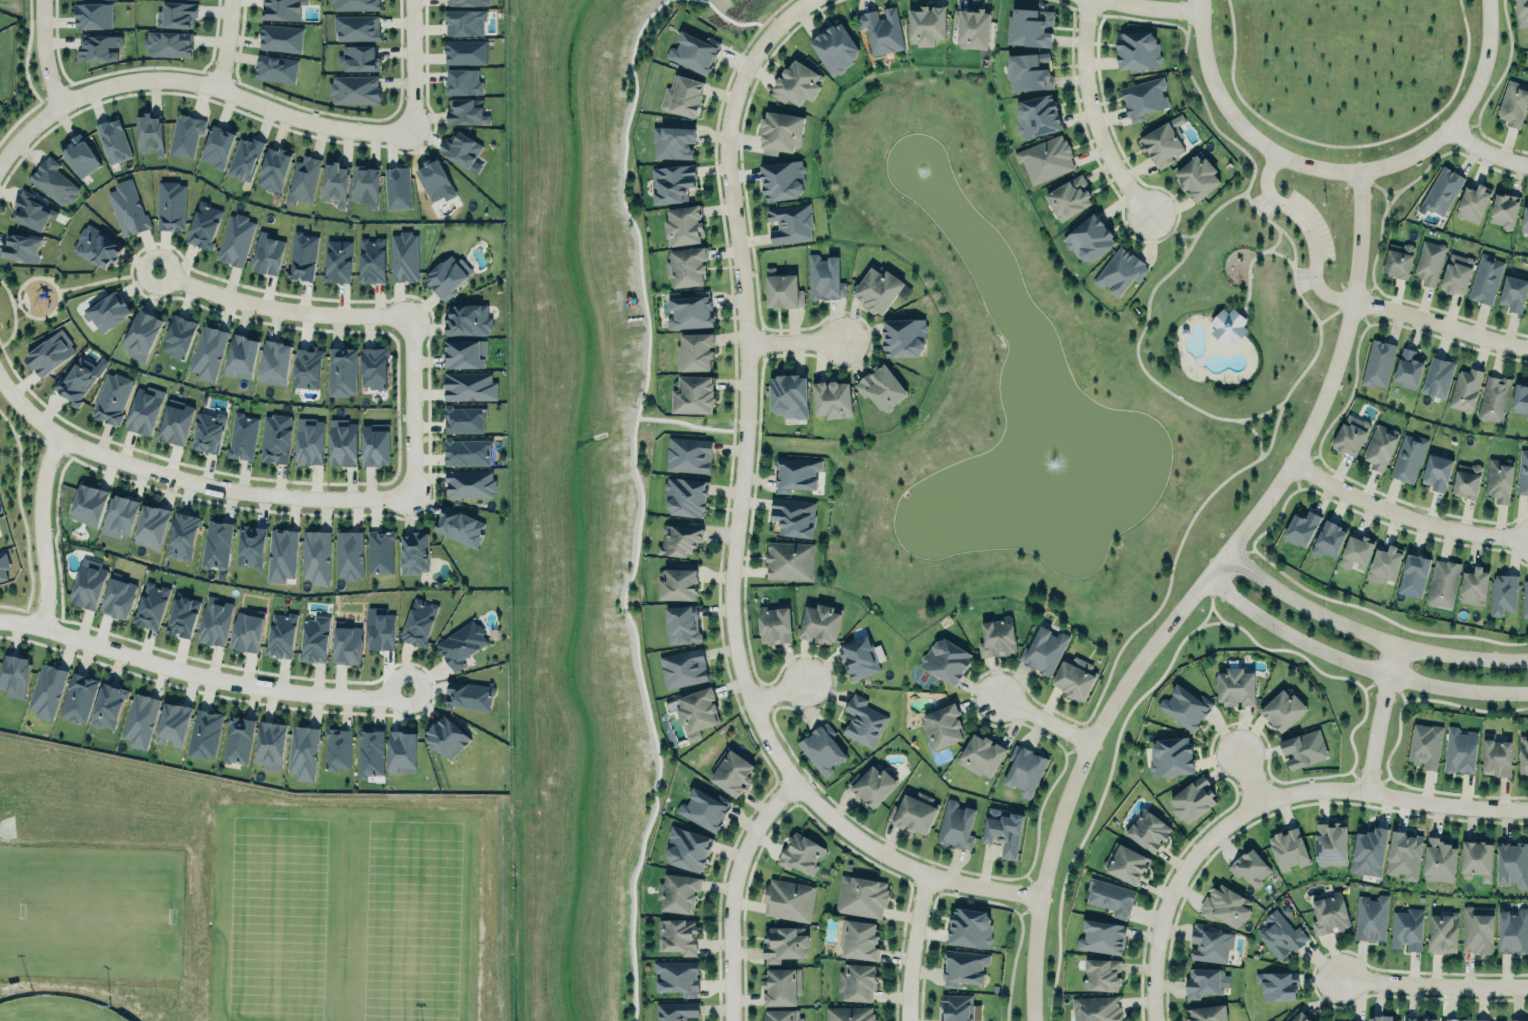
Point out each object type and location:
building: (468, 1)
building: (354, 4)
building: (282, 8)
road: (1139, 11)
building: (1522, 13)
building: (176, 14)
building: (92, 15)
building: (464, 20)
building: (926, 22)
building: (971, 25)
building: (356, 26)
building: (1028, 26)
building: (881, 29)
building: (280, 36)
building: (168, 42)
park: (1345, 42)
road: (223, 44)
building: (97, 46)
building: (831, 47)
building: (1134, 48)
building: (692, 50)
building: (464, 51)
road: (43, 56)
building: (358, 57)
building: (1034, 64)
road: (412, 65)
building: (275, 68)
building: (463, 81)
road: (195, 82)
building: (796, 82)
building: (353, 88)
building: (681, 97)
building: (1142, 97)
building: (1512, 102)
building: (466, 111)
road: (1091, 111)
building: (1034, 113)
road: (1460, 114)
road: (1237, 124)
building: (780, 130)
building: (149, 133)
building: (185, 134)
building: (112, 139)
building: (672, 140)
building: (1161, 144)
building: (216, 146)
building: (462, 151)
road: (1486, 151)
building: (78, 155)
building: (244, 156)
building: (1044, 159)
building: (273, 168)
building: (1196, 177)
building: (302, 179)
building: (435, 179)
building: (783, 179)
fountain: (924, 179)
building: (53, 180)
building: (672, 181)
building: (334, 182)
building: (365, 184)
building: (397, 186)
building: (1442, 190)
building: (1068, 196)
building: (1471, 202)
building: (170, 204)
building: (127, 207)
building: (31, 210)
building: (1503, 210)
building: (1524, 220)
building: (790, 221)
building: (203, 224)
building: (683, 224)
road: (1309, 230)
parking lot: (1315, 236)
building: (1086, 238)
building: (234, 239)
road: (1276, 240)
building: (20, 246)
building: (96, 246)
building: (267, 254)
building: (302, 255)
building: (403, 255)
building: (370, 259)
building: (337, 260)
road: (1250, 260)
building: (1428, 262)
building: (1397, 263)
building: (685, 265)
building: (1120, 270)
building: (1456, 273)
building: (447, 276)
building: (824, 276)
road: (106, 278)
building: (1485, 278)
building: (782, 288)
building: (877, 288)
road: (55, 291)
building: (1513, 292)
road: (13, 302)
road: (1308, 306)
building: (688, 310)
road: (1335, 310)
building: (107, 312)
road: (12, 313)
road: (375, 315)
building: (1527, 315)
building: (467, 319)
road: (1440, 324)
building: (1228, 326)
building: (141, 334)
building: (178, 335)
building: (901, 335)
road: (793, 343)
building: (693, 350)
building: (207, 351)
building: (49, 352)
building: (464, 353)
building: (241, 355)
building: (274, 361)
building: (1378, 362)
building: (306, 366)
building: (373, 366)
building: (1407, 369)
building: (341, 370)
building: (1437, 377)
building: (78, 378)
building: (469, 385)
building: (882, 389)
building: (1465, 389)
building: (693, 393)
building: (788, 394)
building: (112, 397)
building: (832, 398)
building: (1494, 398)
building: (1520, 398)
building: (145, 409)
building: (463, 418)
building: (175, 423)
building: (208, 431)
building: (241, 435)
road: (1255, 435)
building: (1350, 435)
building: (275, 437)
building: (308, 439)
building: (342, 442)
building: (374, 445)
building: (1380, 446)
building: (466, 450)
building: (688, 454)
building: (1408, 458)
building: (1437, 470)
building: (795, 472)
building: (1522, 472)
building: (1498, 478)
building: (1466, 480)
road: (192, 482)
fountain: (1055, 482)
building: (469, 483)
building: (685, 494)
building: (88, 504)
building: (119, 515)
road: (1404, 515)
building: (791, 519)
road: (735, 522)
building: (151, 525)
building: (459, 526)
building: (1301, 527)
road: (41, 530)
building: (182, 534)
building: (678, 538)
building: (1328, 539)
building: (217, 543)
building: (250, 545)
building: (379, 550)
building: (1356, 551)
building: (281, 553)
building: (349, 553)
building: (414, 553)
building: (315, 556)
building: (789, 560)
building: (1384, 563)
building: (3, 565)
building: (1413, 575)
building: (88, 582)
building: (1443, 582)
building: (676, 583)
building: (1474, 585)
building: (1503, 593)
road: (1192, 594)
building: (118, 597)
building: (1525, 598)
building: (151, 605)
building: (182, 616)
building: (214, 621)
building: (418, 621)
building: (819, 622)
building: (681, 623)
building: (774, 623)
building: (379, 628)
building: (246, 630)
building: (281, 635)
building: (997, 635)
road: (1367, 635)
building: (314, 638)
building: (461, 643)
building: (346, 645)
building: (1044, 650)
building: (861, 656)
building: (946, 659)
road: (1355, 665)
building: (683, 667)
road: (200, 673)
building: (14, 675)
building: (1074, 677)
building: (1235, 686)
building: (46, 689)
road: (778, 693)
building: (469, 694)
building: (78, 696)
building: (108, 705)
building: (1184, 707)
building: (1282, 709)
building: (697, 711)
road: (1377, 718)
building: (140, 719)
building: (863, 720)
road: (1041, 720)
building: (173, 723)
building: (941, 725)
building: (204, 733)
building: (446, 736)
building: (238, 738)
building: (271, 743)
building: (1424, 745)
building: (821, 746)
building: (337, 748)
building: (1304, 748)
building: (402, 750)
building: (1459, 750)
building: (303, 751)
building: (371, 751)
building: (1523, 753)
building: (979, 755)
building: (1496, 755)
building: (1171, 756)
building: (1024, 769)
building: (731, 770)
road: (1248, 775)
building: (872, 784)
building: (1192, 798)
road: (1264, 800)
building: (697, 807)
building: (913, 813)
building: (959, 821)
building: (1002, 829)
building: (1147, 829)
building: (1330, 842)
building: (688, 847)
building: (1288, 847)
building: (1369, 850)
building: (801, 852)
building: (1404, 854)
building: (1438, 859)
building: (1477, 859)
building: (1125, 861)
building: (1512, 863)
building: (1250, 866)
building: (678, 892)
road: (734, 892)
building: (861, 895)
building: (1110, 895)
building: (788, 899)
building: (1224, 904)
building: (1329, 914)
building: (1370, 916)
building: (1406, 926)
building: (969, 927)
building: (1477, 929)
building: (1512, 930)
building: (1443, 932)
building: (1280, 934)
building: (678, 935)
building: (1102, 935)
building: (858, 938)
building: (784, 943)
building: (1209, 943)
road: (911, 945)
building: (964, 966)
building: (1101, 974)
building: (678, 975)
building: (844, 982)
building: (1204, 982)
road: (1438, 982)
building: (1277, 984)
building: (781, 985)
building: (958, 1007)
building: (1096, 1008)
building: (676, 1010)
building: (849, 1013)
building: (1207, 1013)
building: (778, 1015)
building: (1296, 1015)
building: (1381, 1017)
building: (1417, 1018)
building: (1453, 1019)
building: (1481, 1019)
building: (1314, 1020)
building: (1335, 1020)
building: (1500, 1020)
building: (1517, 1020)

